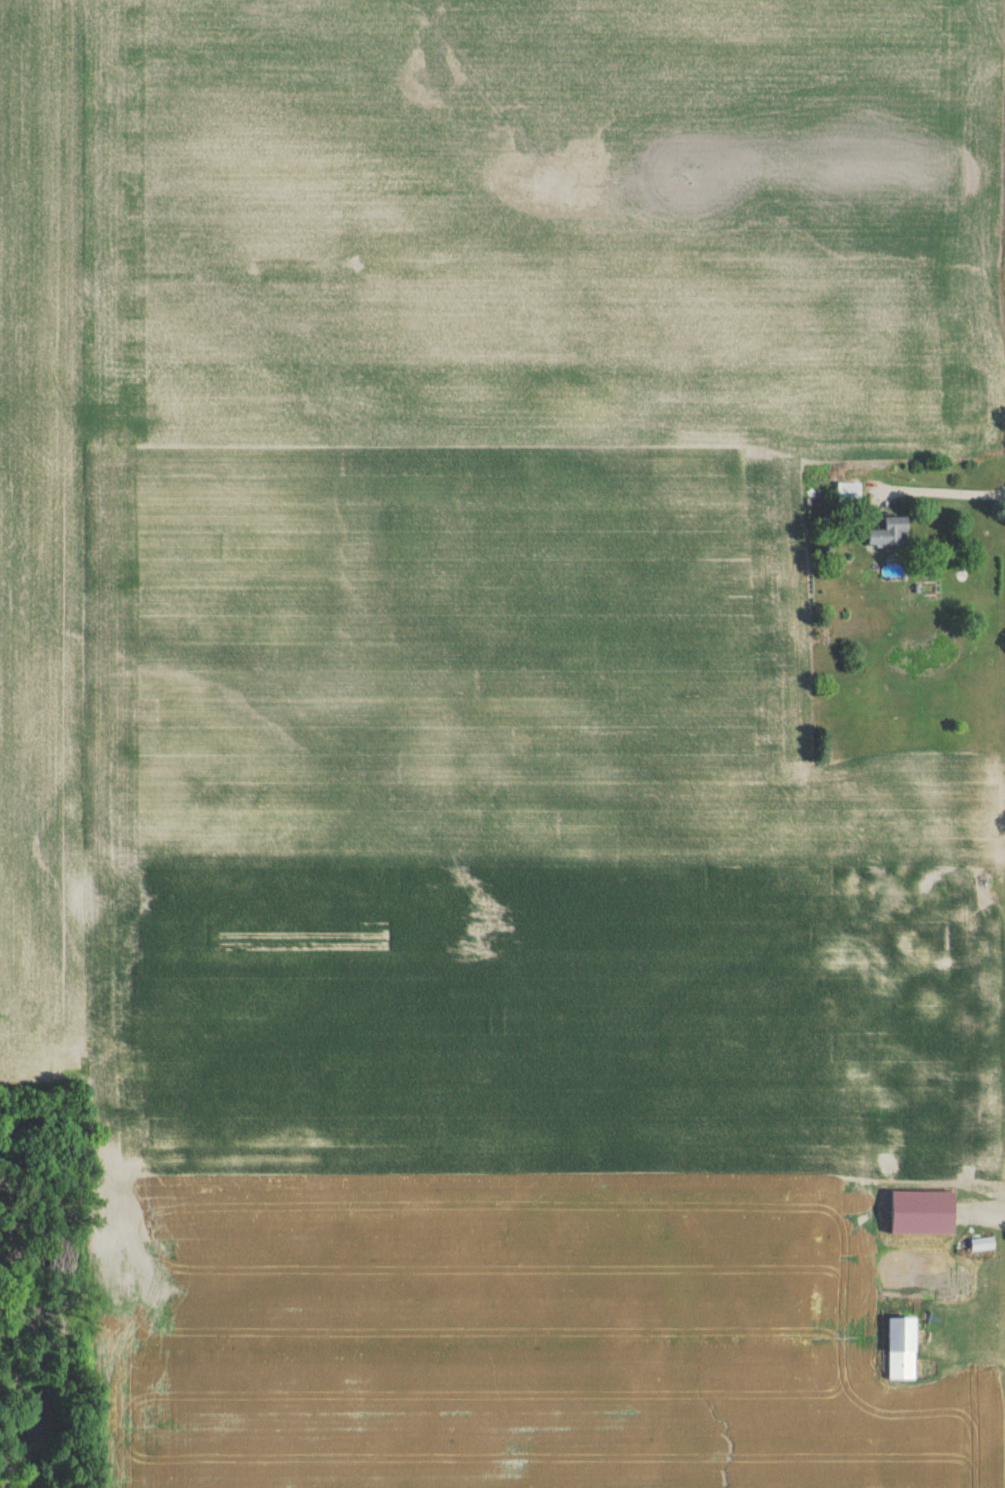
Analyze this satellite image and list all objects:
road: (940, 489)
building: (845, 497)
building: (883, 537)
building: (978, 1247)
building: (897, 1351)

